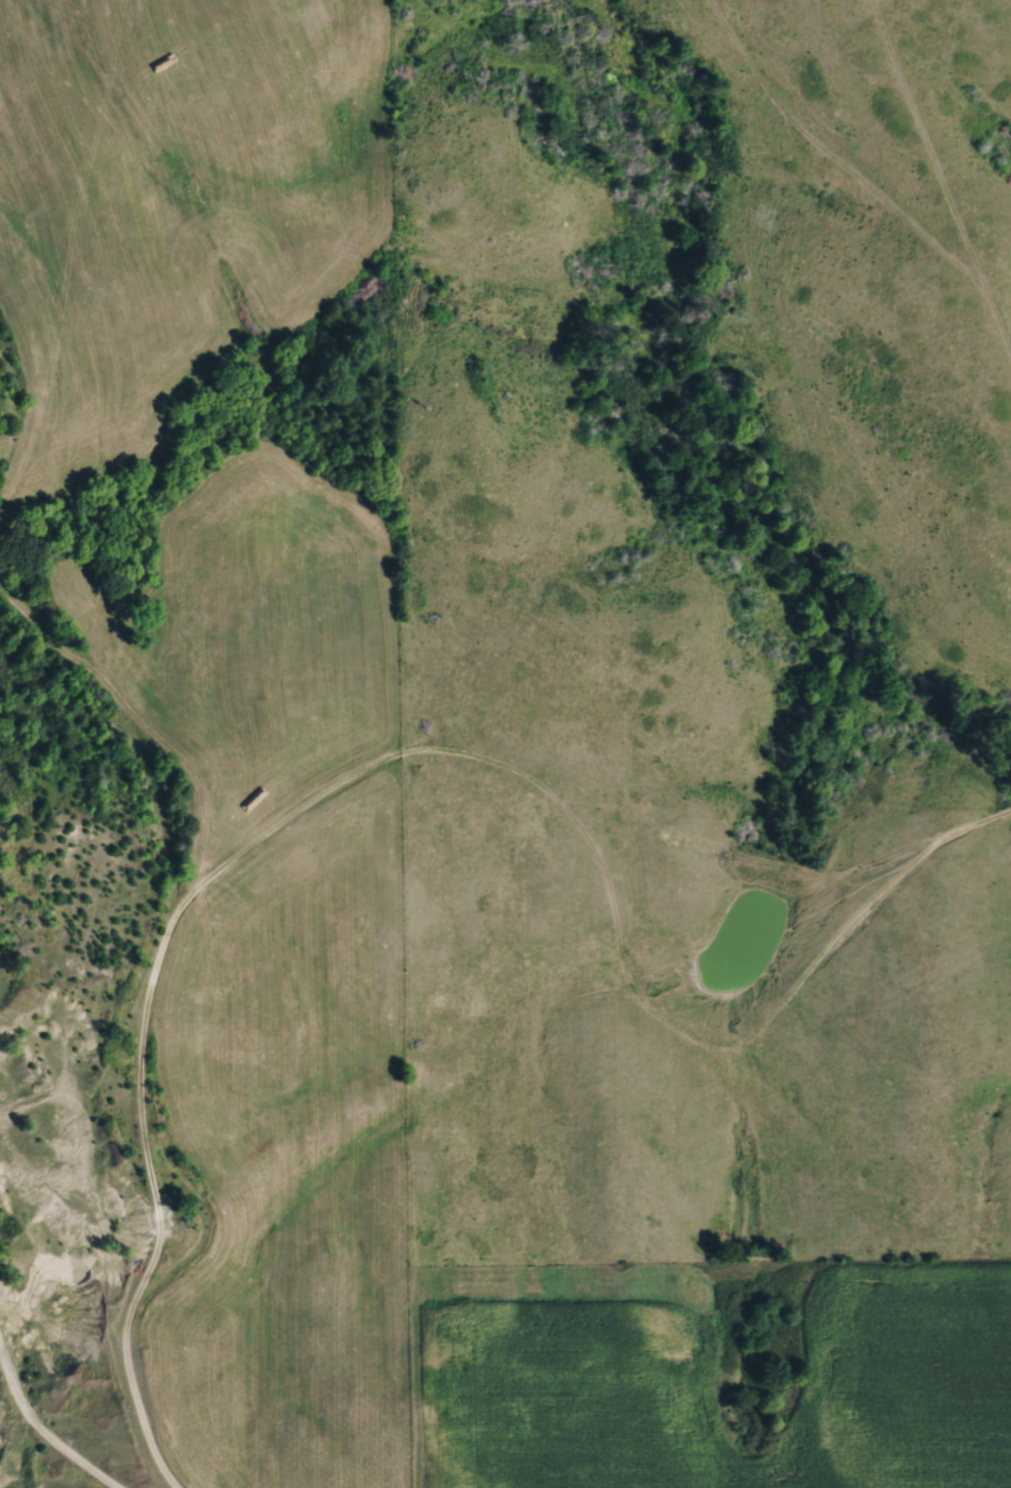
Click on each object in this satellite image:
road: (41, 1434)

